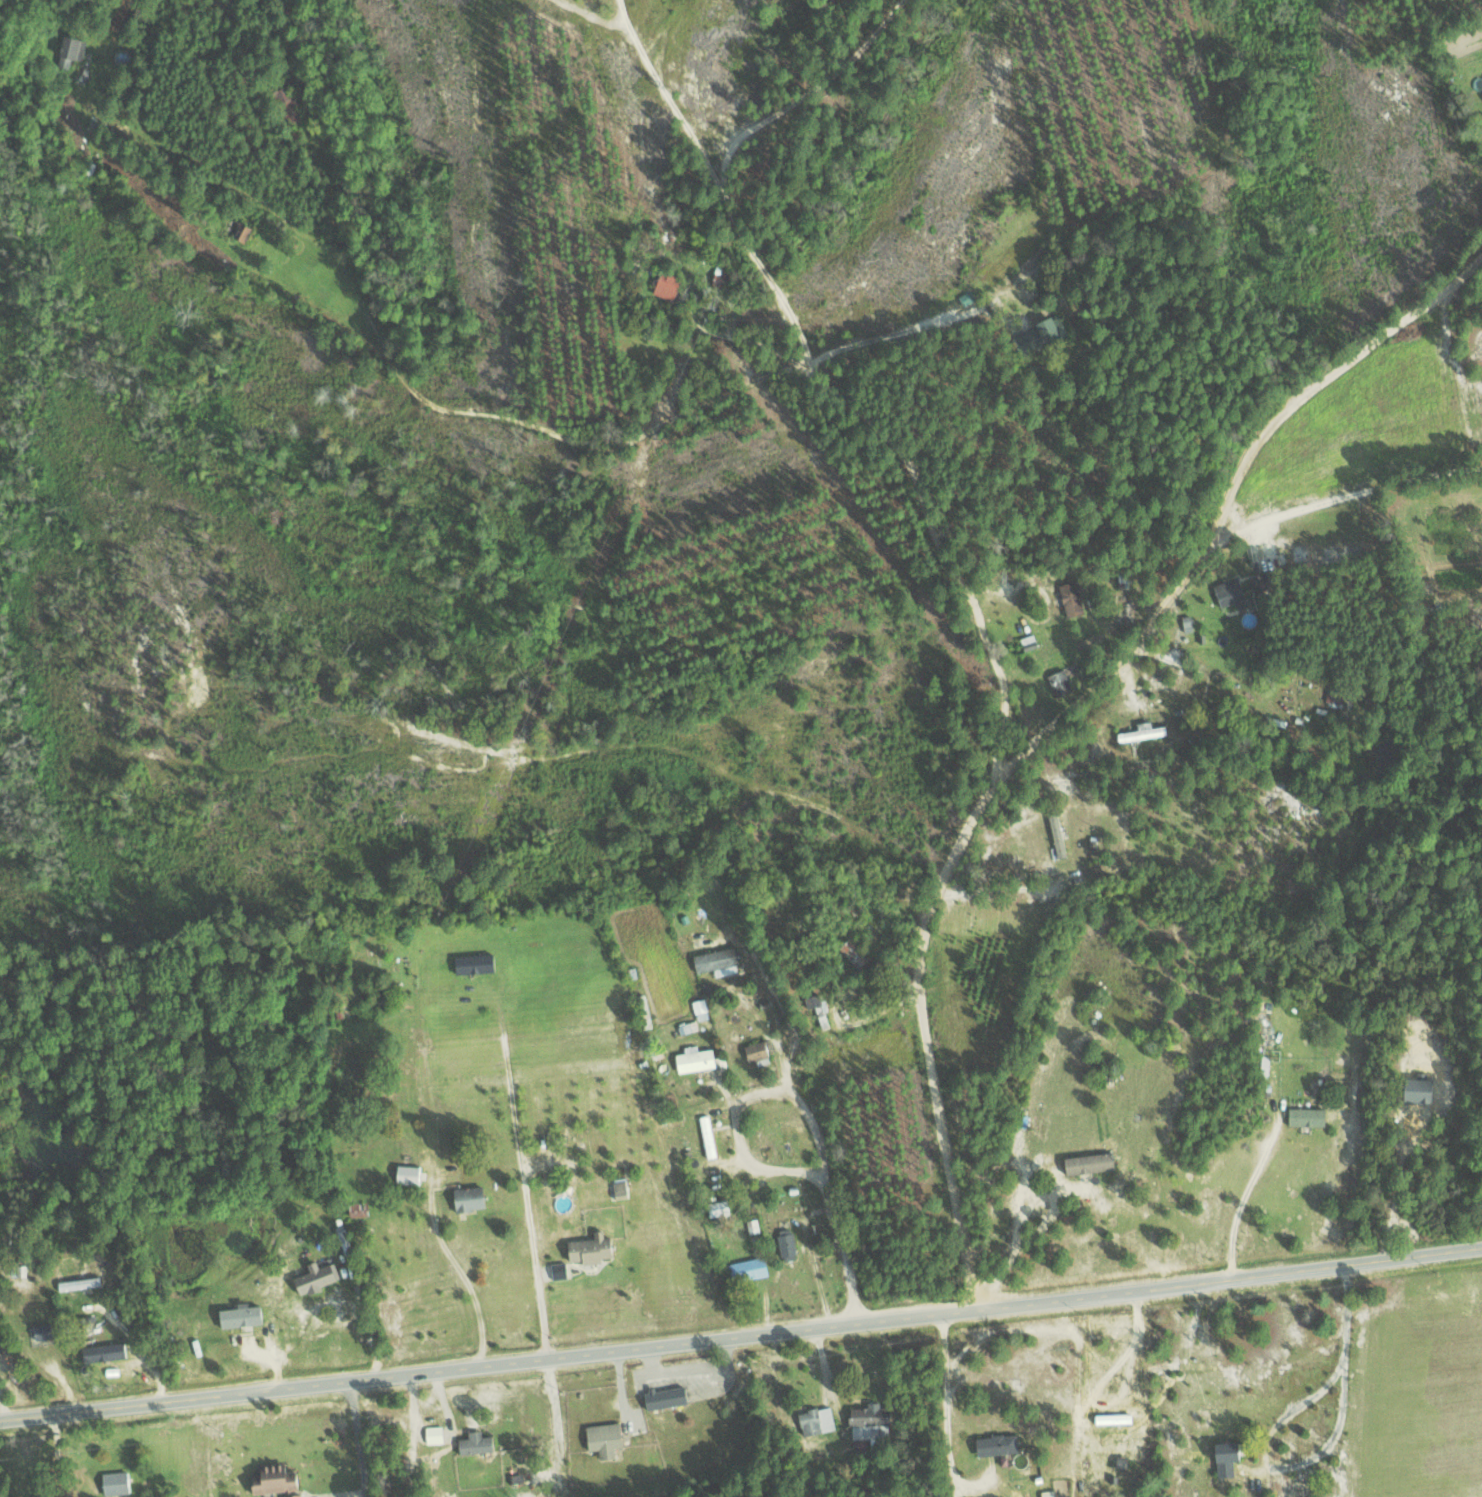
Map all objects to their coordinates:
road: (801, 51)
building: (63, 62)
road: (703, 173)
building: (237, 229)
building: (665, 284)
building: (1039, 332)
road: (844, 395)
road: (1352, 492)
building: (1258, 581)
building: (1229, 592)
building: (1070, 598)
building: (1027, 642)
building: (1058, 682)
road: (1061, 714)
building: (1139, 731)
building: (1056, 836)
building: (715, 961)
building: (473, 963)
building: (699, 1009)
building: (755, 1053)
building: (693, 1059)
road: (812, 1116)
building: (1305, 1117)
building: (706, 1136)
building: (1087, 1163)
building: (407, 1174)
road: (523, 1184)
building: (619, 1188)
road: (433, 1195)
building: (466, 1198)
building: (716, 1208)
building: (785, 1242)
building: (587, 1248)
building: (745, 1269)
building: (557, 1270)
building: (315, 1277)
building: (77, 1283)
building: (239, 1316)
building: (40, 1331)
road: (741, 1338)
building: (102, 1352)
road: (9, 1385)
building: (664, 1397)
building: (814, 1419)
building: (868, 1422)
building: (602, 1439)
road: (361, 1440)
building: (474, 1443)
building: (995, 1444)
building: (1224, 1458)
building: (272, 1480)
building: (113, 1483)
building: (1295, 1487)

